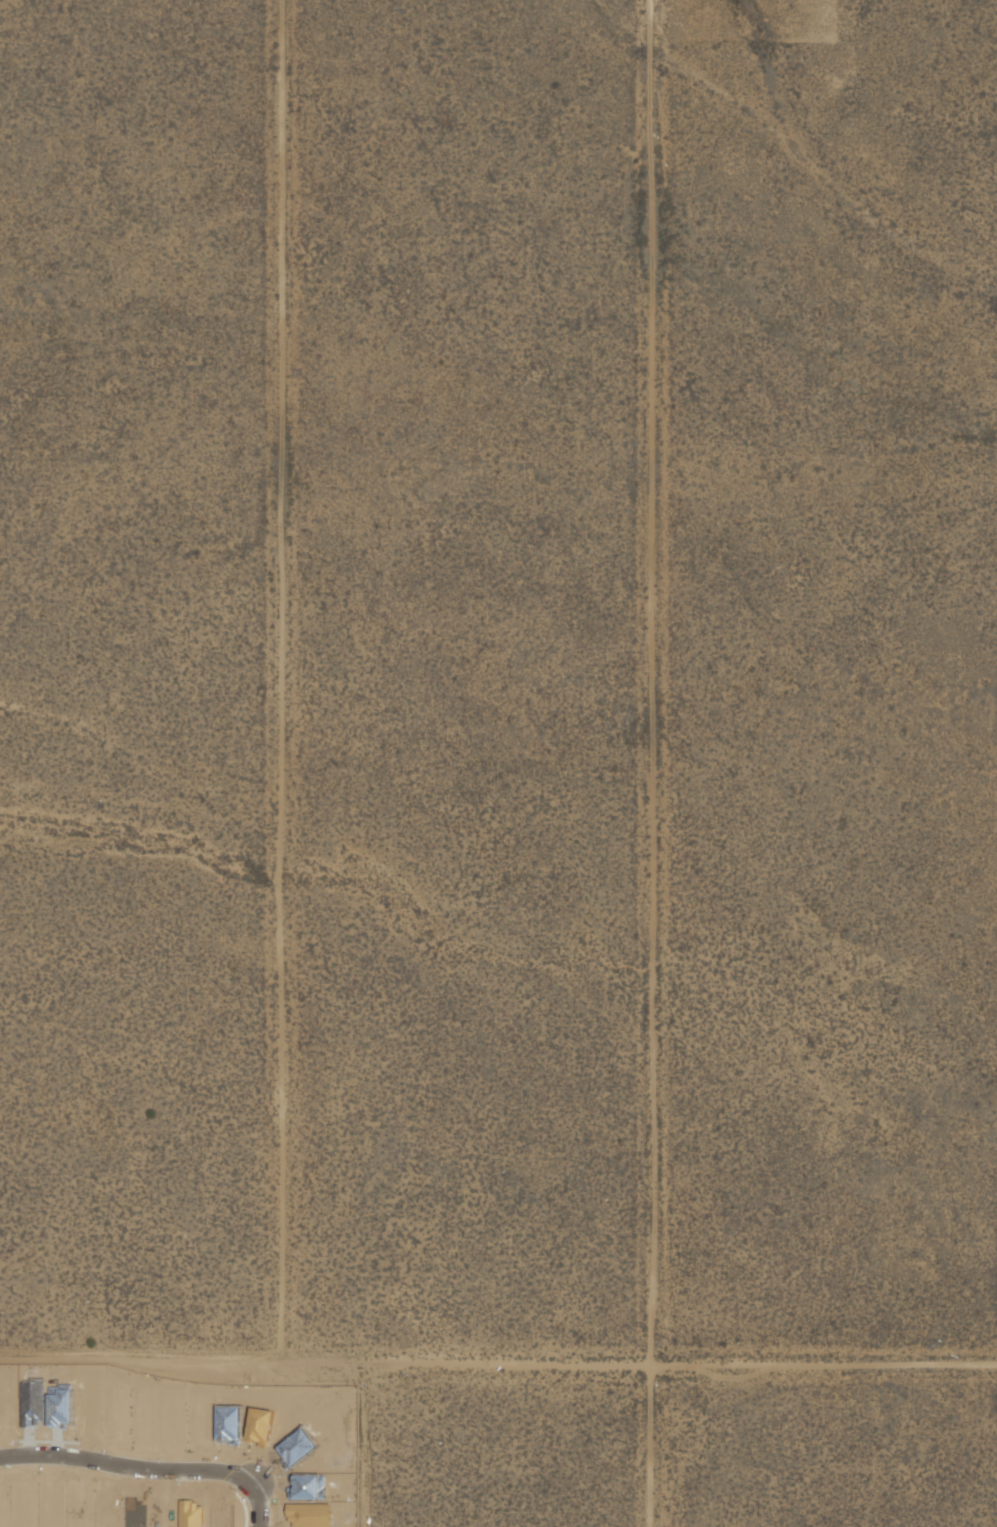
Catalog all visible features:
road: (285, 680)
road: (659, 681)
road: (498, 1361)
building: (31, 1407)
building: (60, 1407)
building: (172, 1420)
building: (227, 1427)
building: (259, 1428)
road: (47, 1446)
building: (295, 1446)
road: (272, 1469)
road: (126, 1470)
building: (308, 1487)
road: (222, 1491)
road: (256, 1507)
building: (2, 1512)
building: (132, 1514)
building: (161, 1514)
building: (190, 1515)
building: (218, 1516)
building: (308, 1516)

